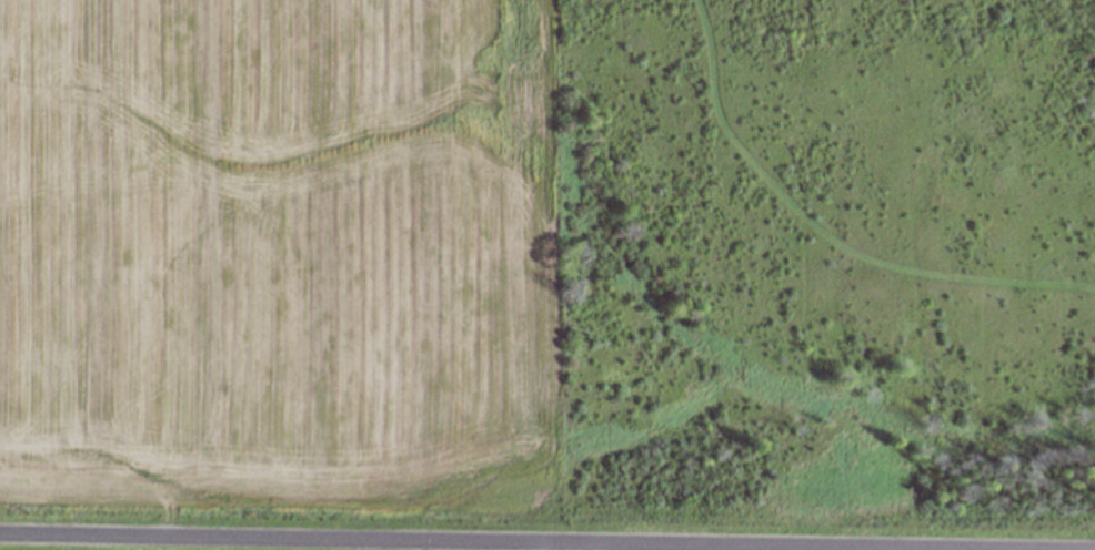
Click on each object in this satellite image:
road: (547, 538)
road: (565, 544)

